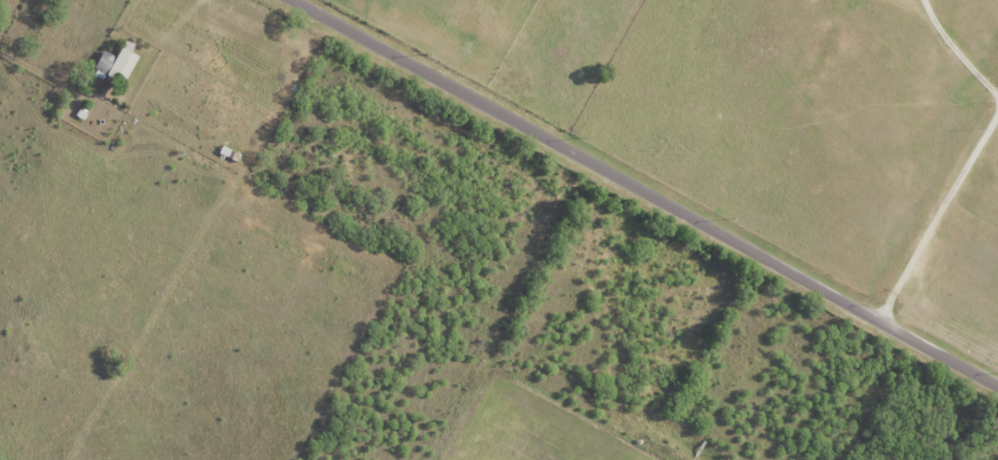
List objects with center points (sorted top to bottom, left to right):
road: (957, 52)
building: (117, 66)
road: (641, 193)
road: (937, 215)

